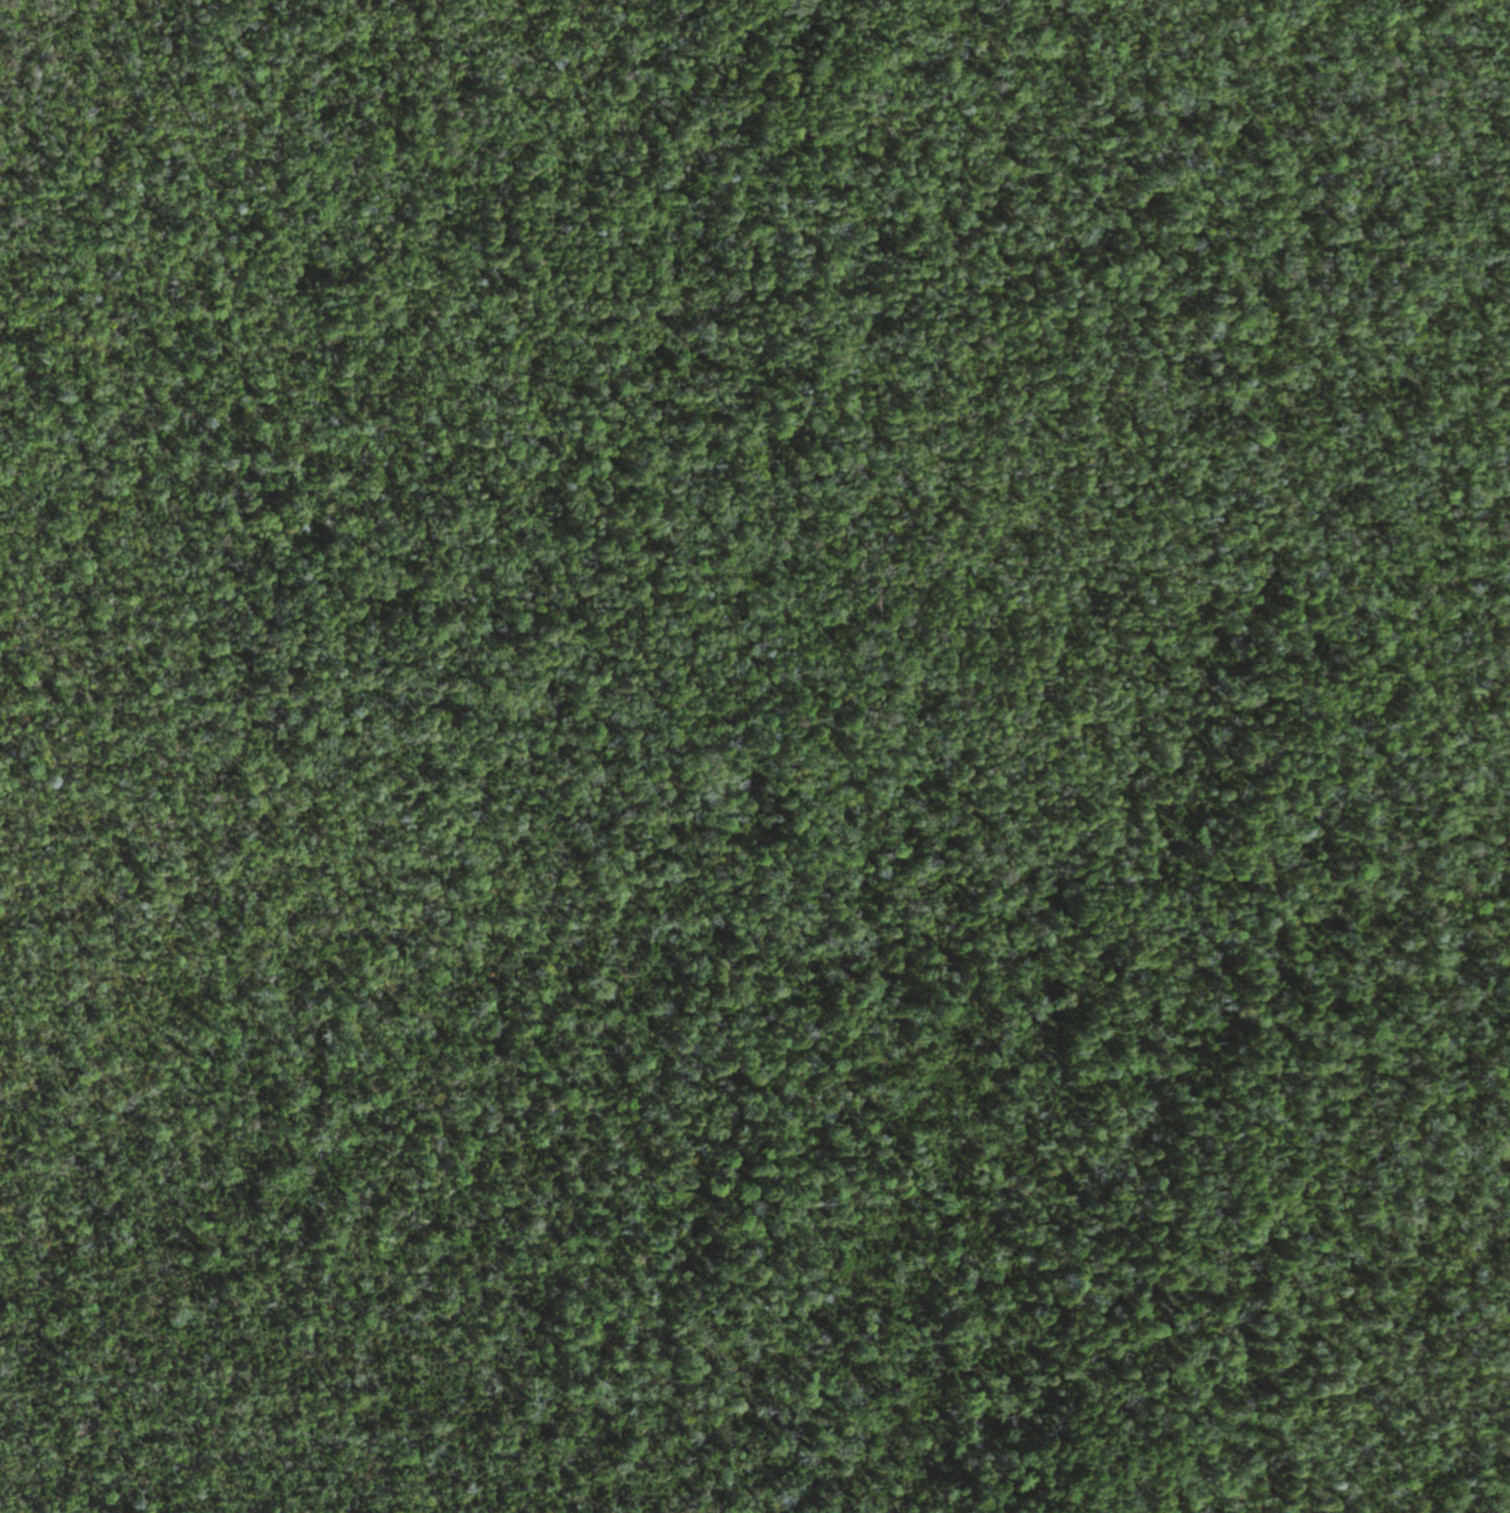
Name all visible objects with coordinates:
road: (1435, 1305)

